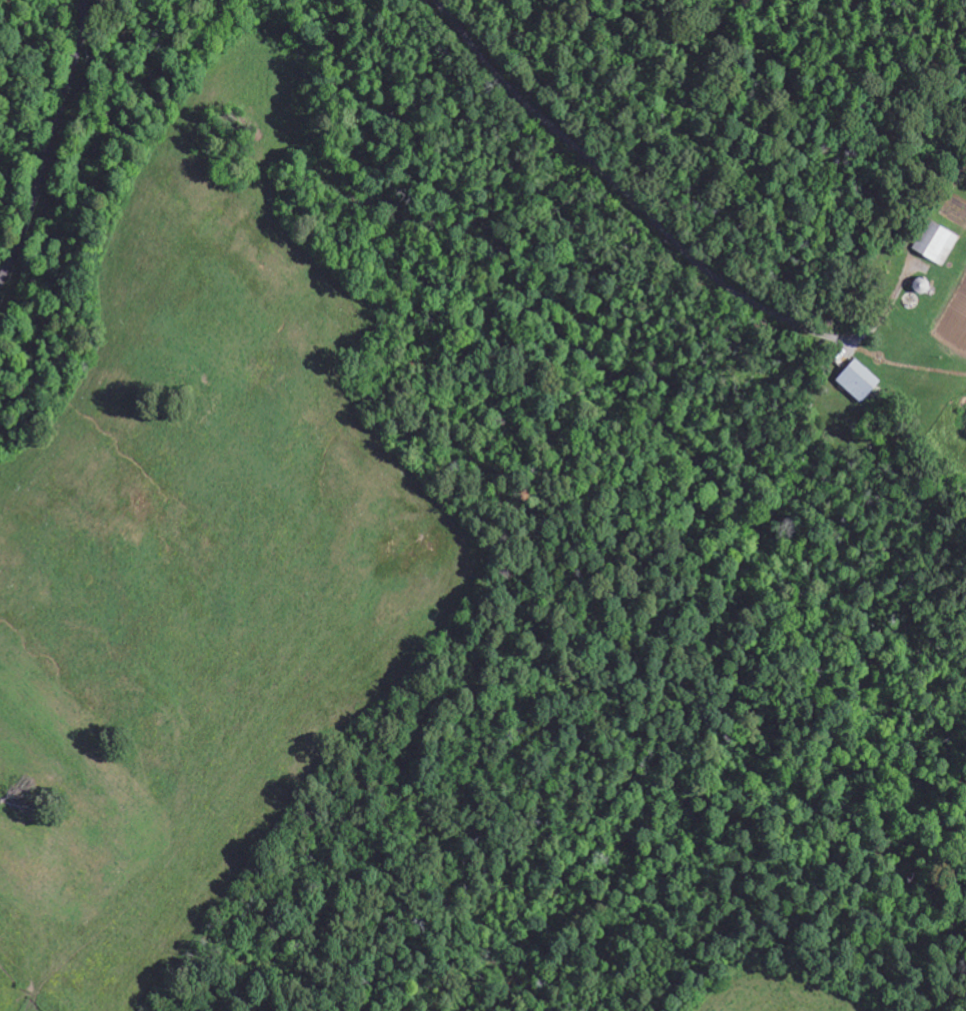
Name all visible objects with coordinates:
road: (47, 142)
road: (623, 187)
building: (933, 245)
building: (854, 382)

